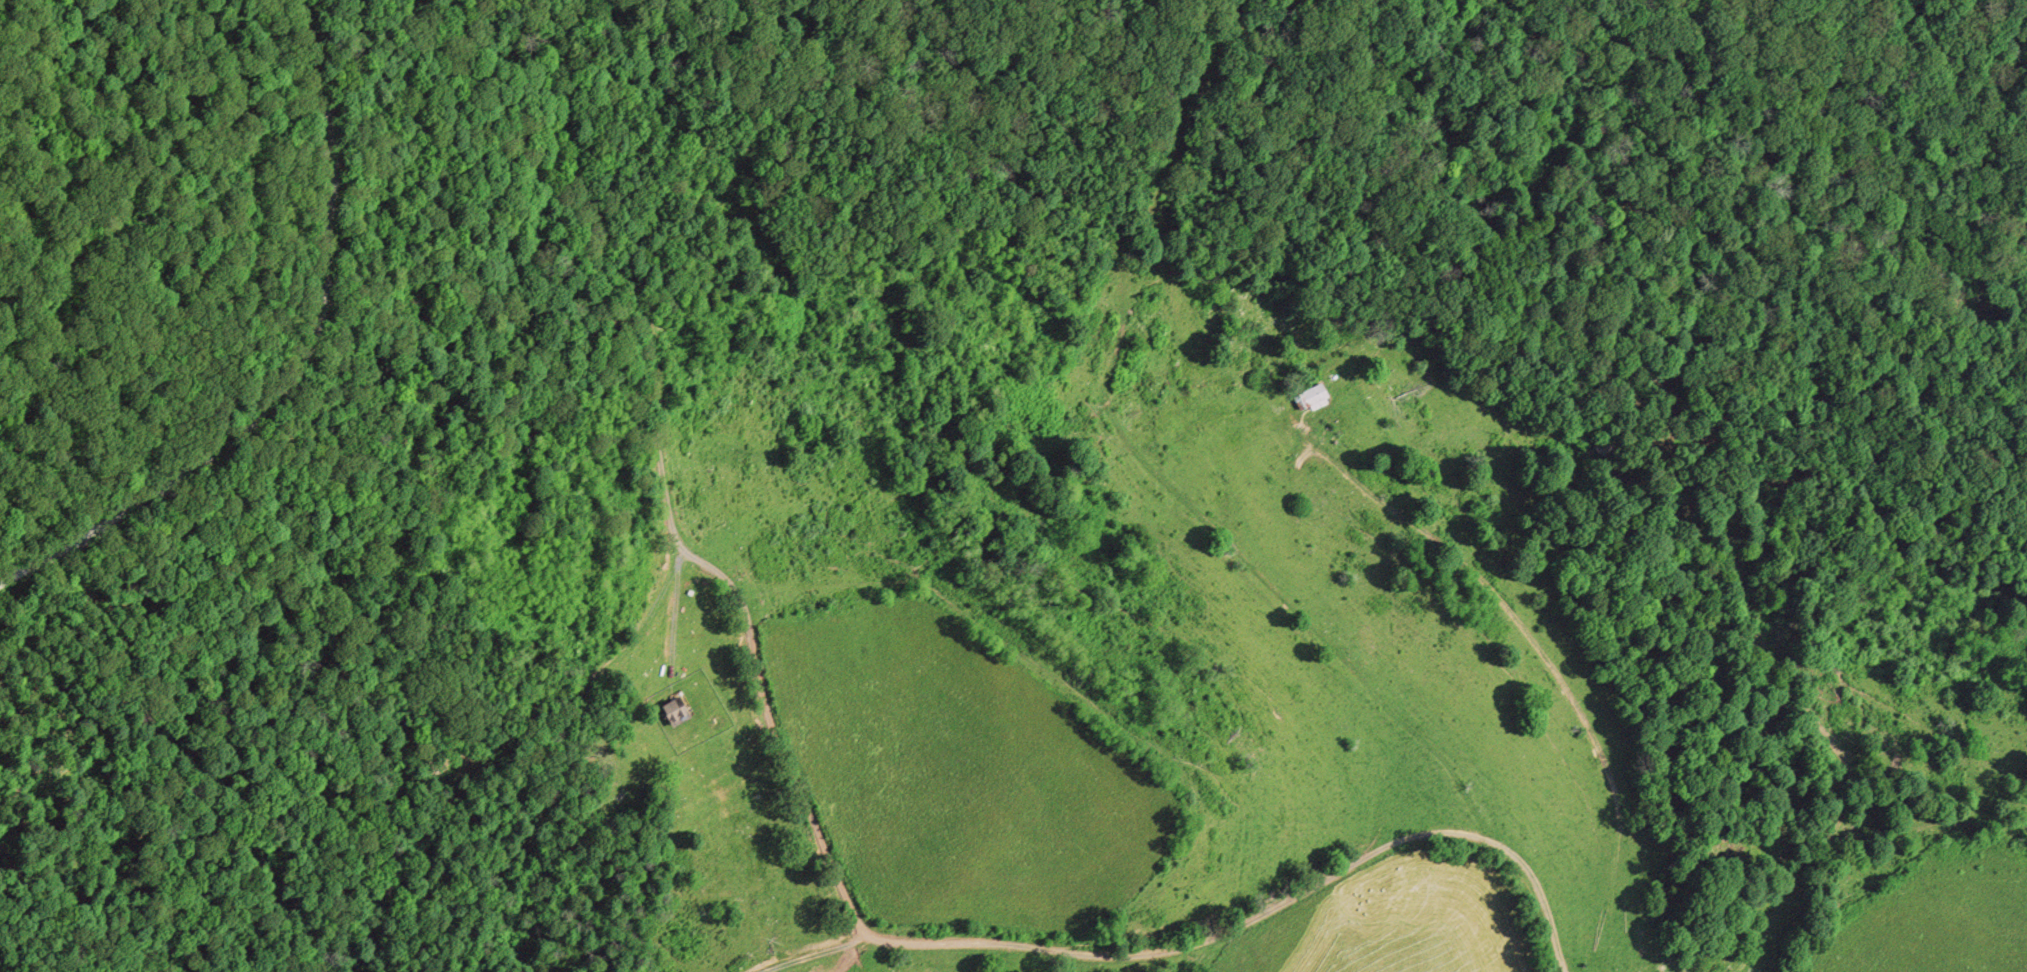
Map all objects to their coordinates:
road: (301, 367)
building: (1319, 398)
road: (1545, 657)
building: (680, 710)
road: (821, 840)

